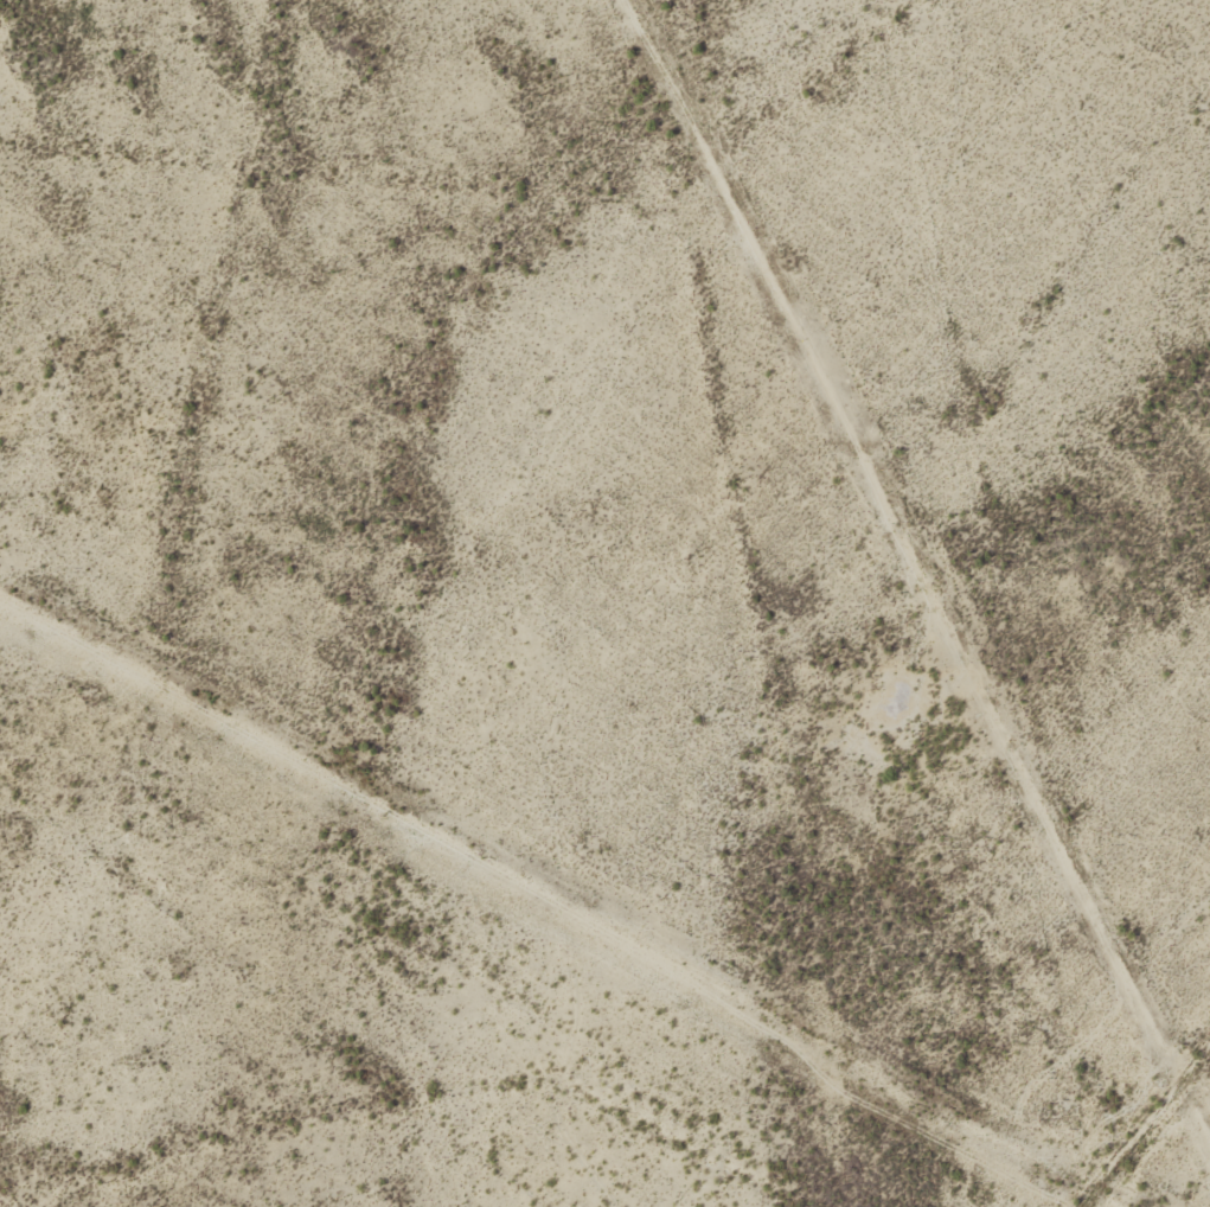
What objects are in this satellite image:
road: (1146, 1129)
road: (1095, 1203)

